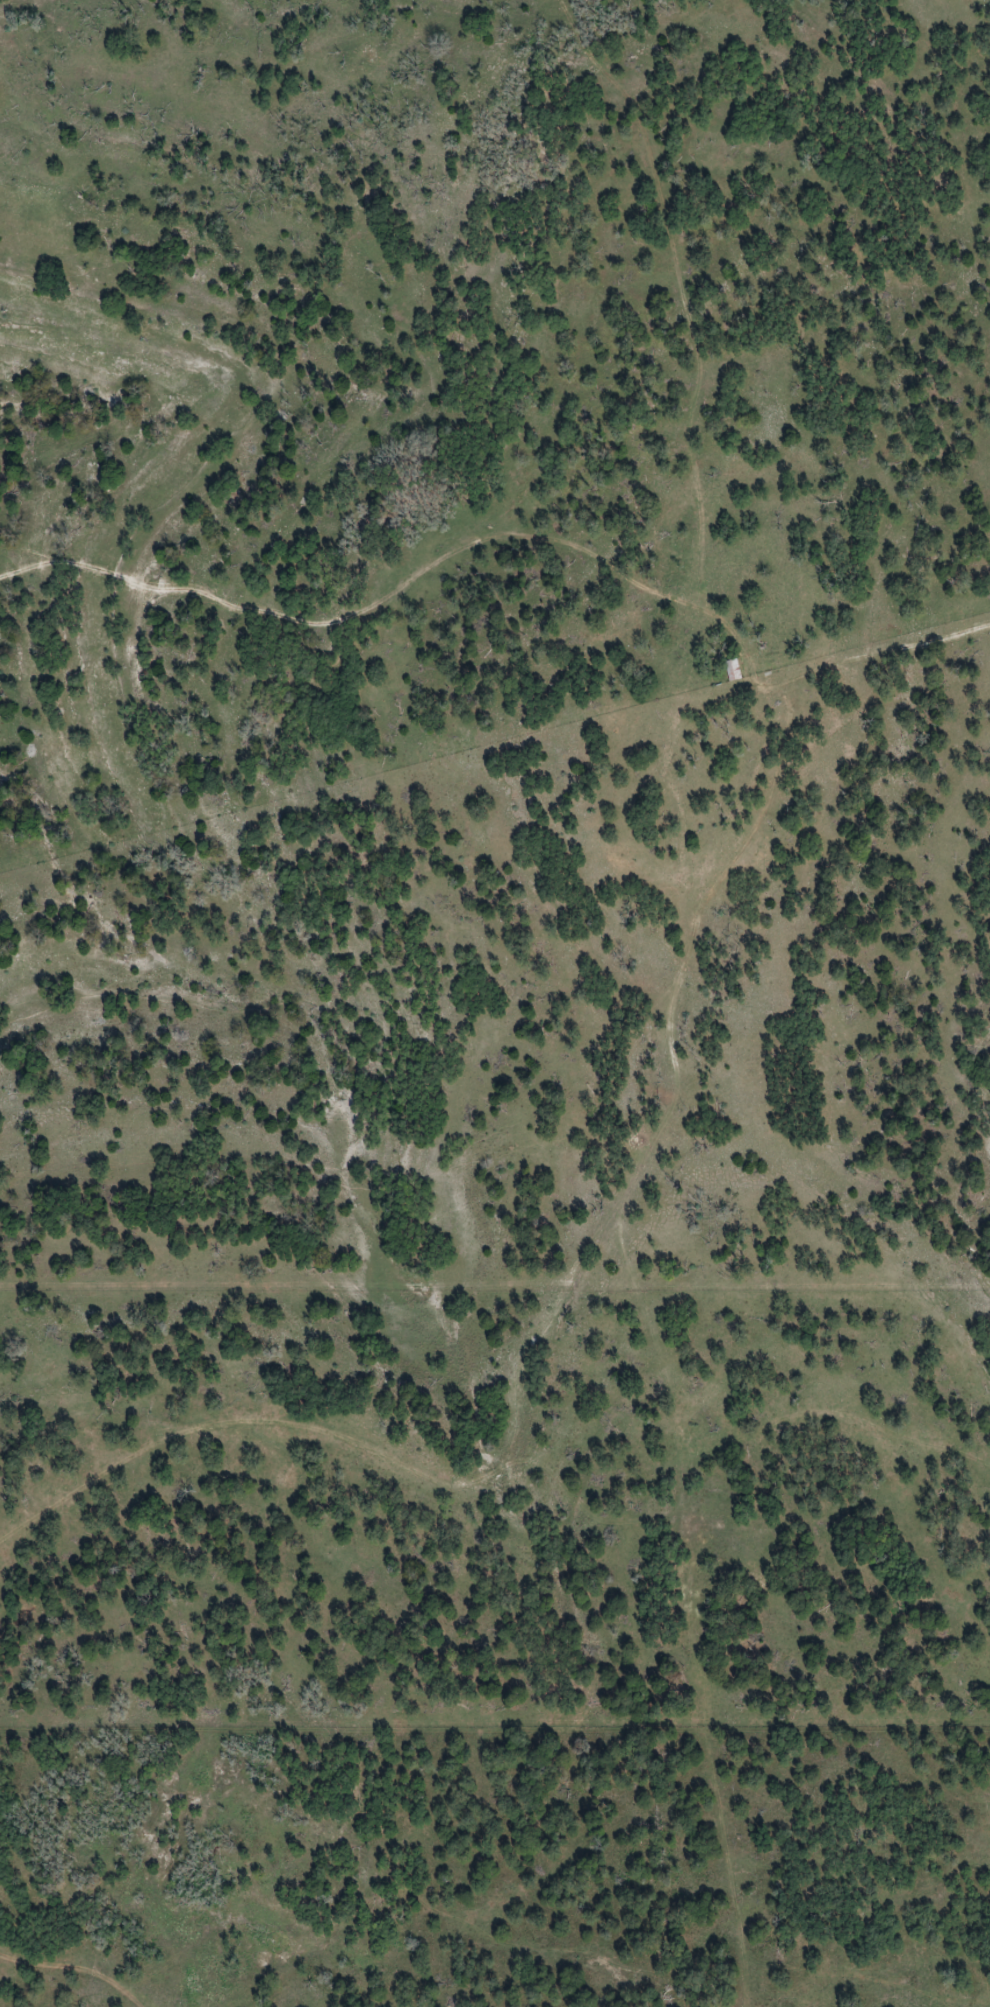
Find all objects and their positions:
building: (730, 669)

